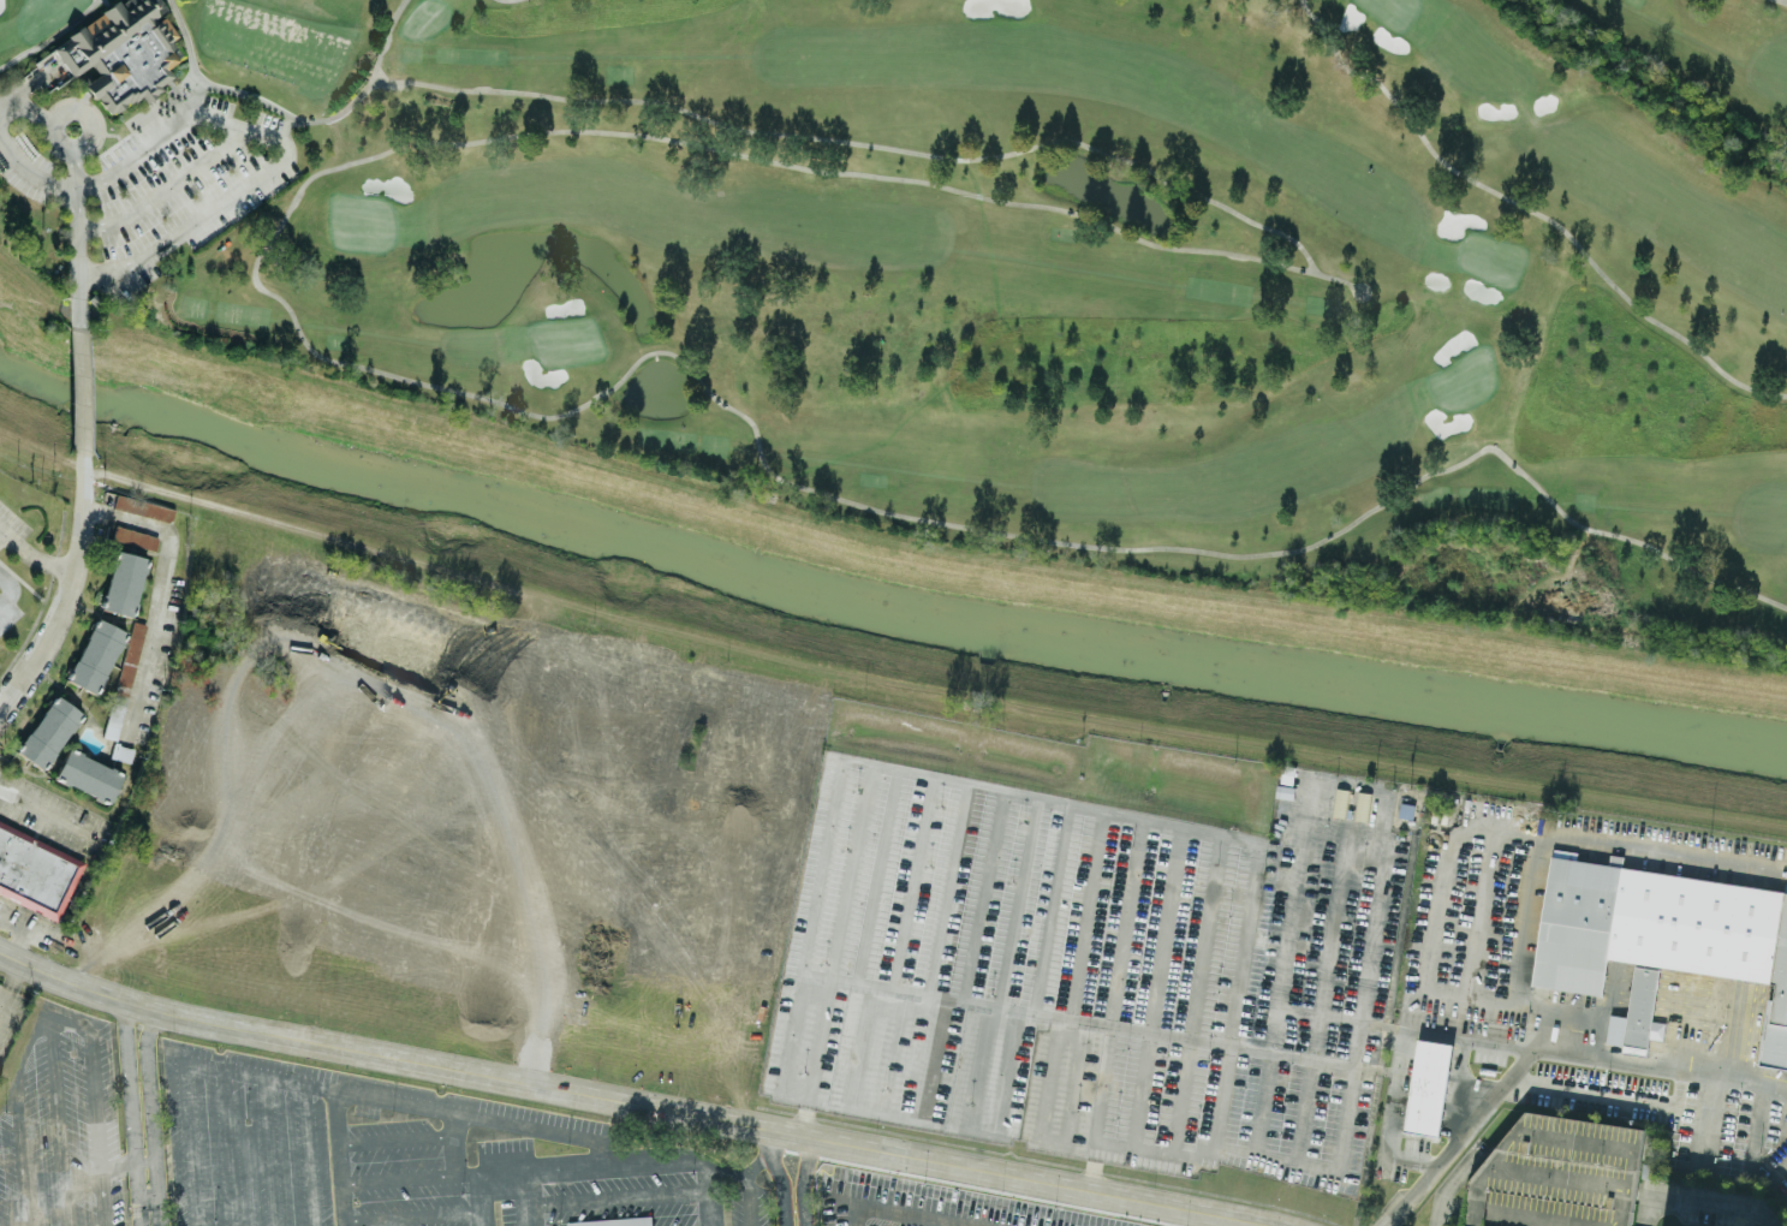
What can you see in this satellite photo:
building: (120, 52)
road: (28, 83)
road: (31, 108)
road: (249, 130)
road: (60, 143)
parking lot: (25, 166)
parking lot: (183, 181)
road: (163, 189)
road: (76, 221)
park: (1000, 264)
road: (78, 314)
road: (81, 391)
building: (143, 507)
road: (1, 532)
building: (135, 537)
road: (35, 557)
building: (123, 583)
road: (7, 588)
road: (73, 589)
road: (161, 593)
river: (883, 603)
building: (95, 655)
building: (124, 679)
building: (48, 732)
building: (87, 775)
road: (52, 814)
road: (1545, 839)
building: (35, 871)
road: (25, 929)
building: (1662, 932)
road: (19, 944)
road: (1283, 950)
road: (8, 982)
road: (989, 1002)
building: (1642, 1010)
road: (793, 1038)
road: (28, 1040)
road: (1210, 1042)
road: (1531, 1048)
road: (185, 1083)
building: (1428, 1087)
road: (7, 1091)
road: (1220, 1095)
road: (394, 1097)
road: (636, 1102)
road: (97, 1108)
road: (806, 1112)
road: (133, 1115)
road: (1703, 1117)
road: (153, 1118)
road: (61, 1123)
road: (1463, 1138)
road: (407, 1139)
road: (228, 1147)
road: (20, 1150)
road: (269, 1150)
road: (1183, 1151)
road: (770, 1154)
road: (340, 1156)
road: (1094, 1163)
road: (589, 1167)
road: (411, 1177)
road: (803, 1180)
road: (528, 1189)
road: (782, 1189)
road: (708, 1197)
road: (619, 1198)
road: (973, 1198)
road: (835, 1200)
road: (877, 1203)
road: (1712, 1206)
road: (916, 1207)
road: (955, 1210)
road: (413, 1214)
road: (993, 1214)
road: (530, 1216)
road: (1034, 1218)
road: (1070, 1221)
building: (613, 1222)

